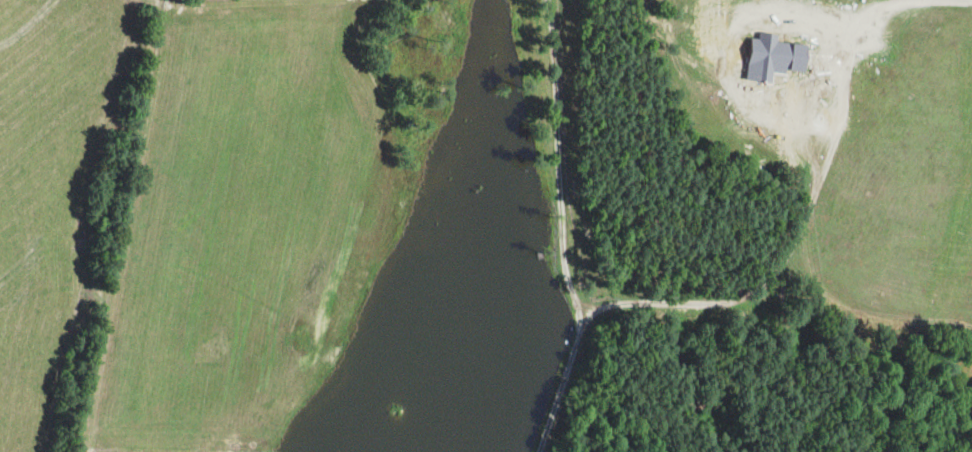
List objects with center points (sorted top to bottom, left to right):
road: (172, 2)
crop: (845, 138)
crop: (45, 186)
road: (84, 224)
road: (121, 227)
road: (563, 229)
road: (797, 238)

